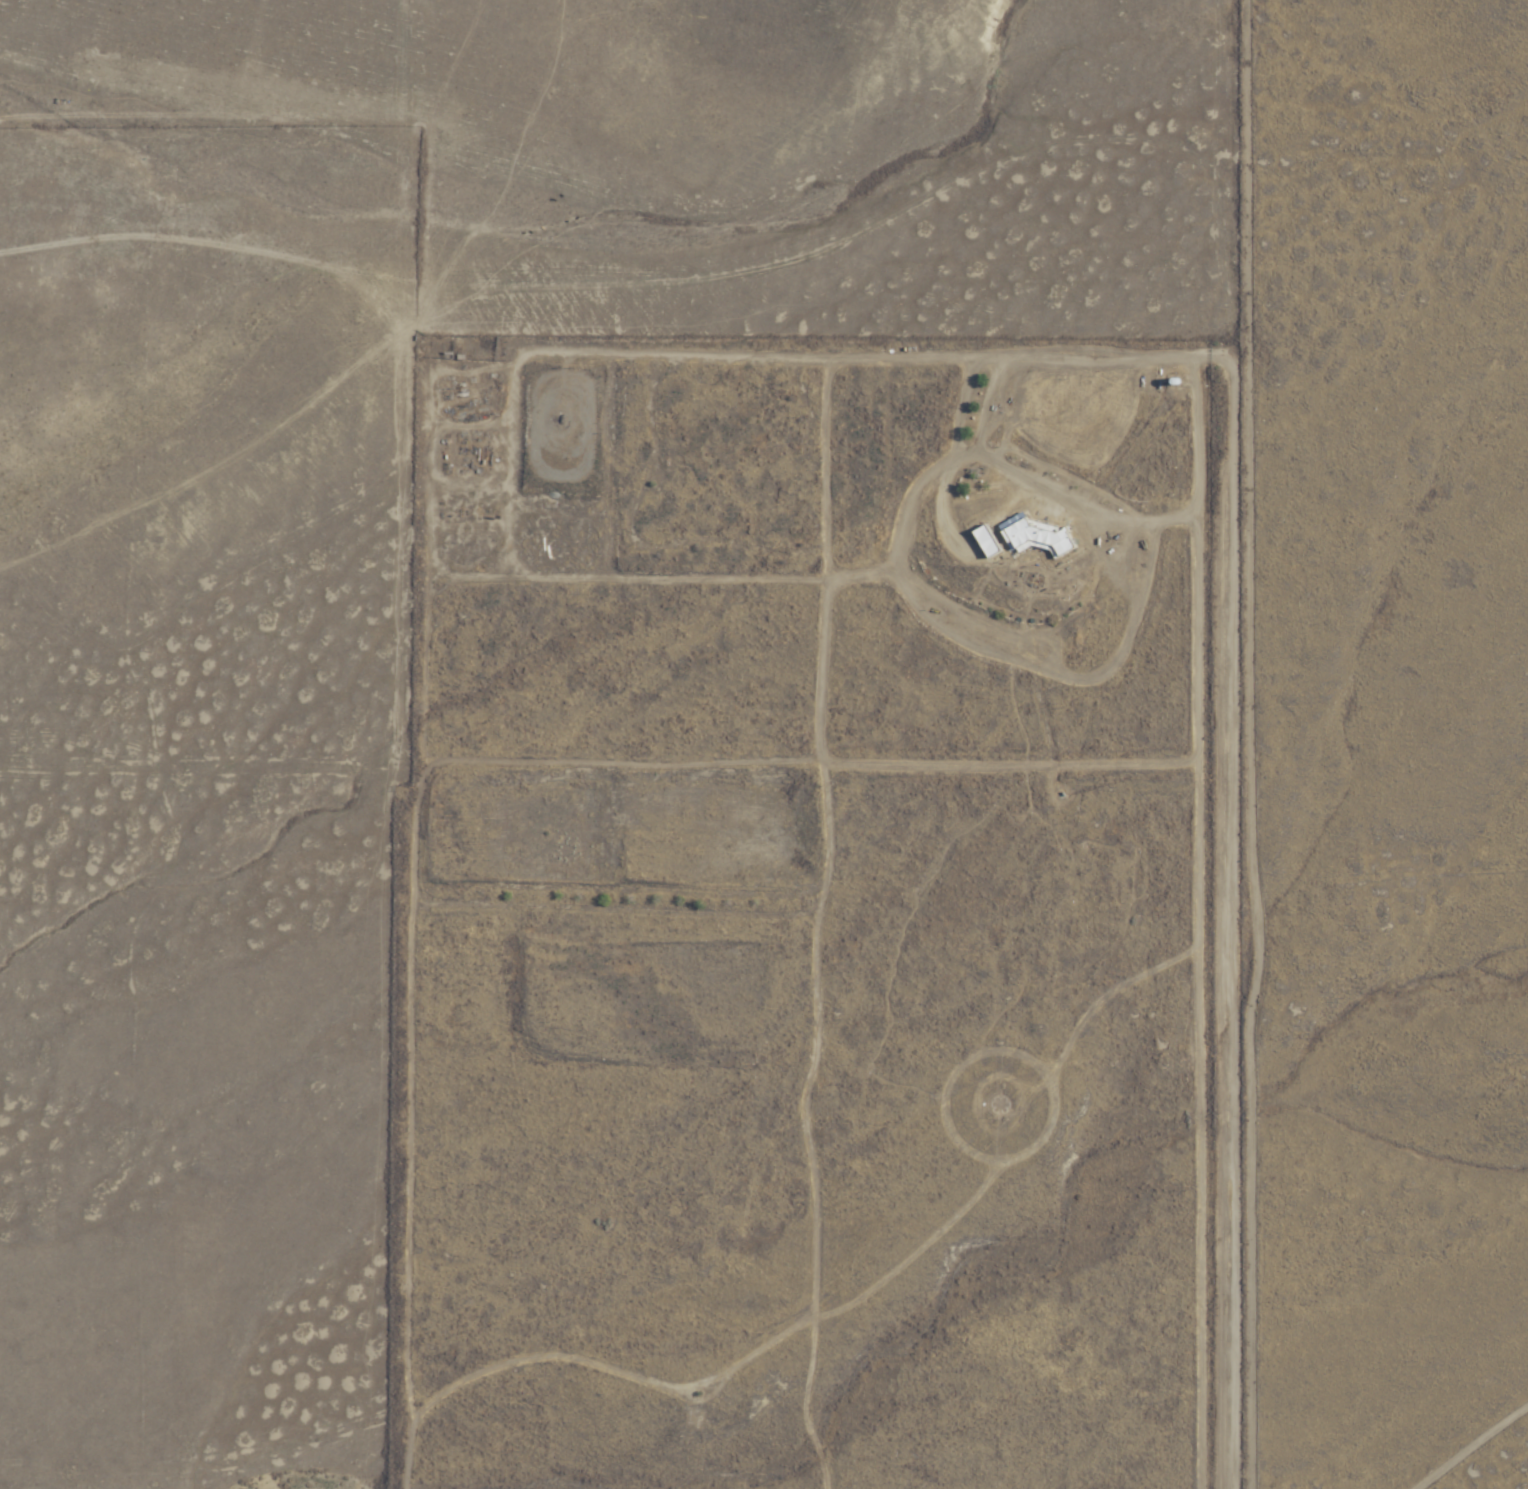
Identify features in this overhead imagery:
building: (1045, 537)
building: (990, 541)
road: (1231, 747)

